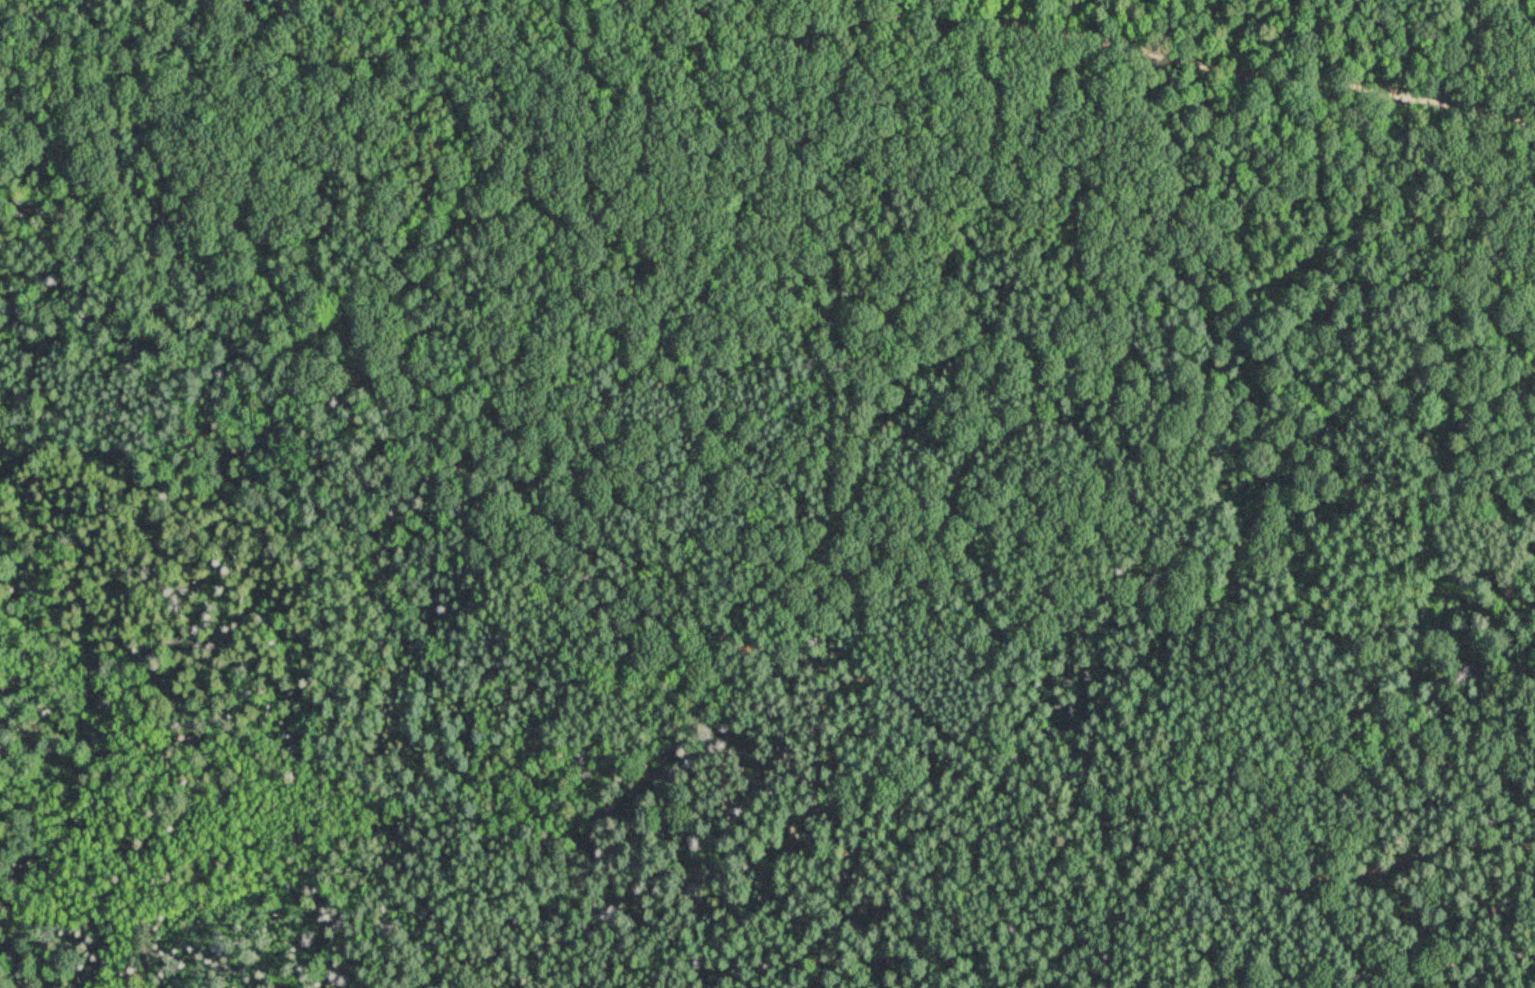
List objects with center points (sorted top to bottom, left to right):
road: (1116, 36)
park: (767, 494)
park: (172, 770)
road: (1207, 870)

